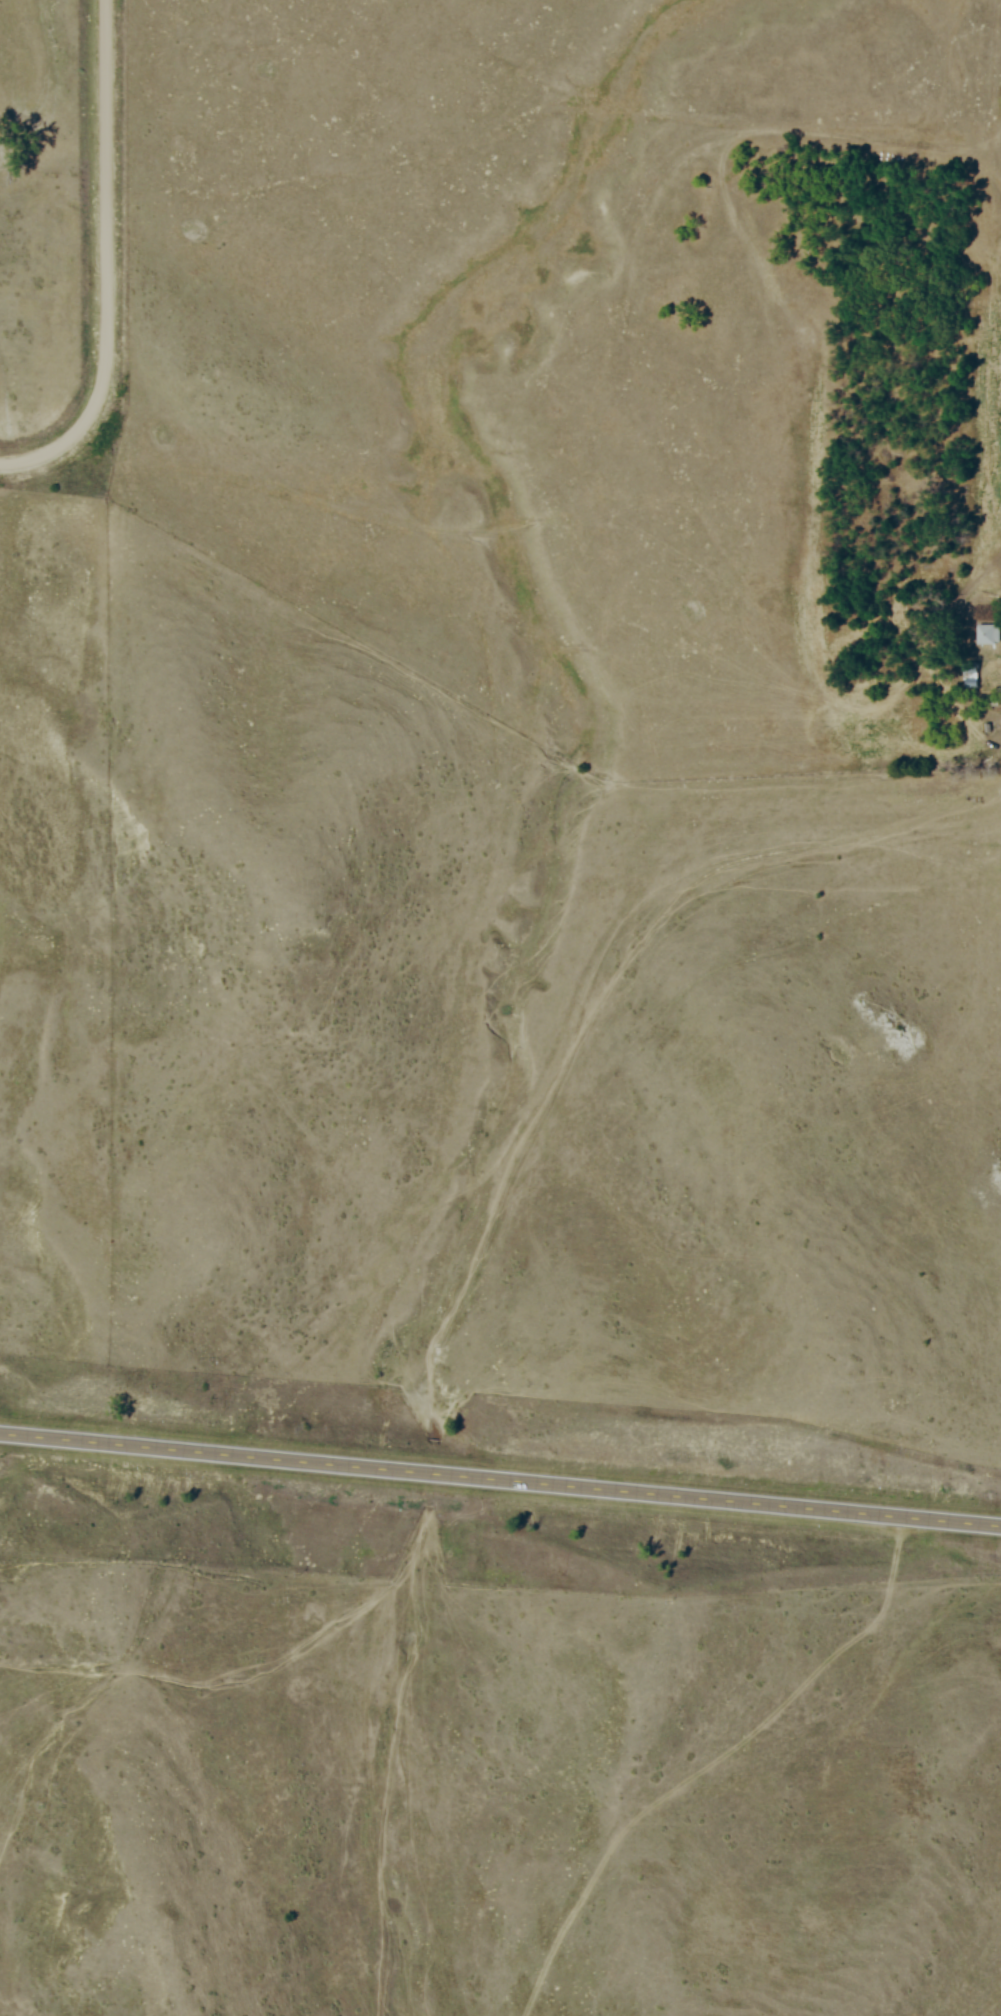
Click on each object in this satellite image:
road: (113, 266)
building: (988, 633)
building: (970, 673)
road: (500, 1482)

